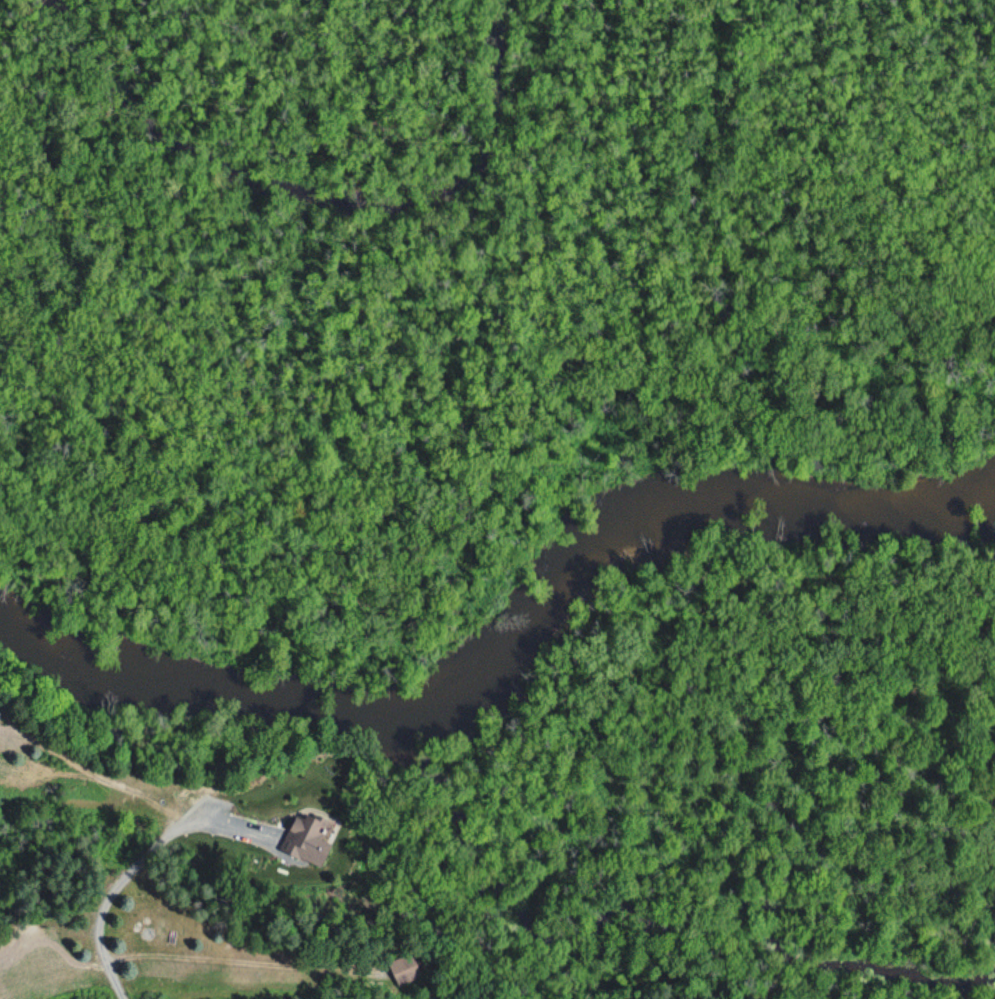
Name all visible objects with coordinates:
river: (751, 503)
river: (282, 702)
building: (303, 834)

